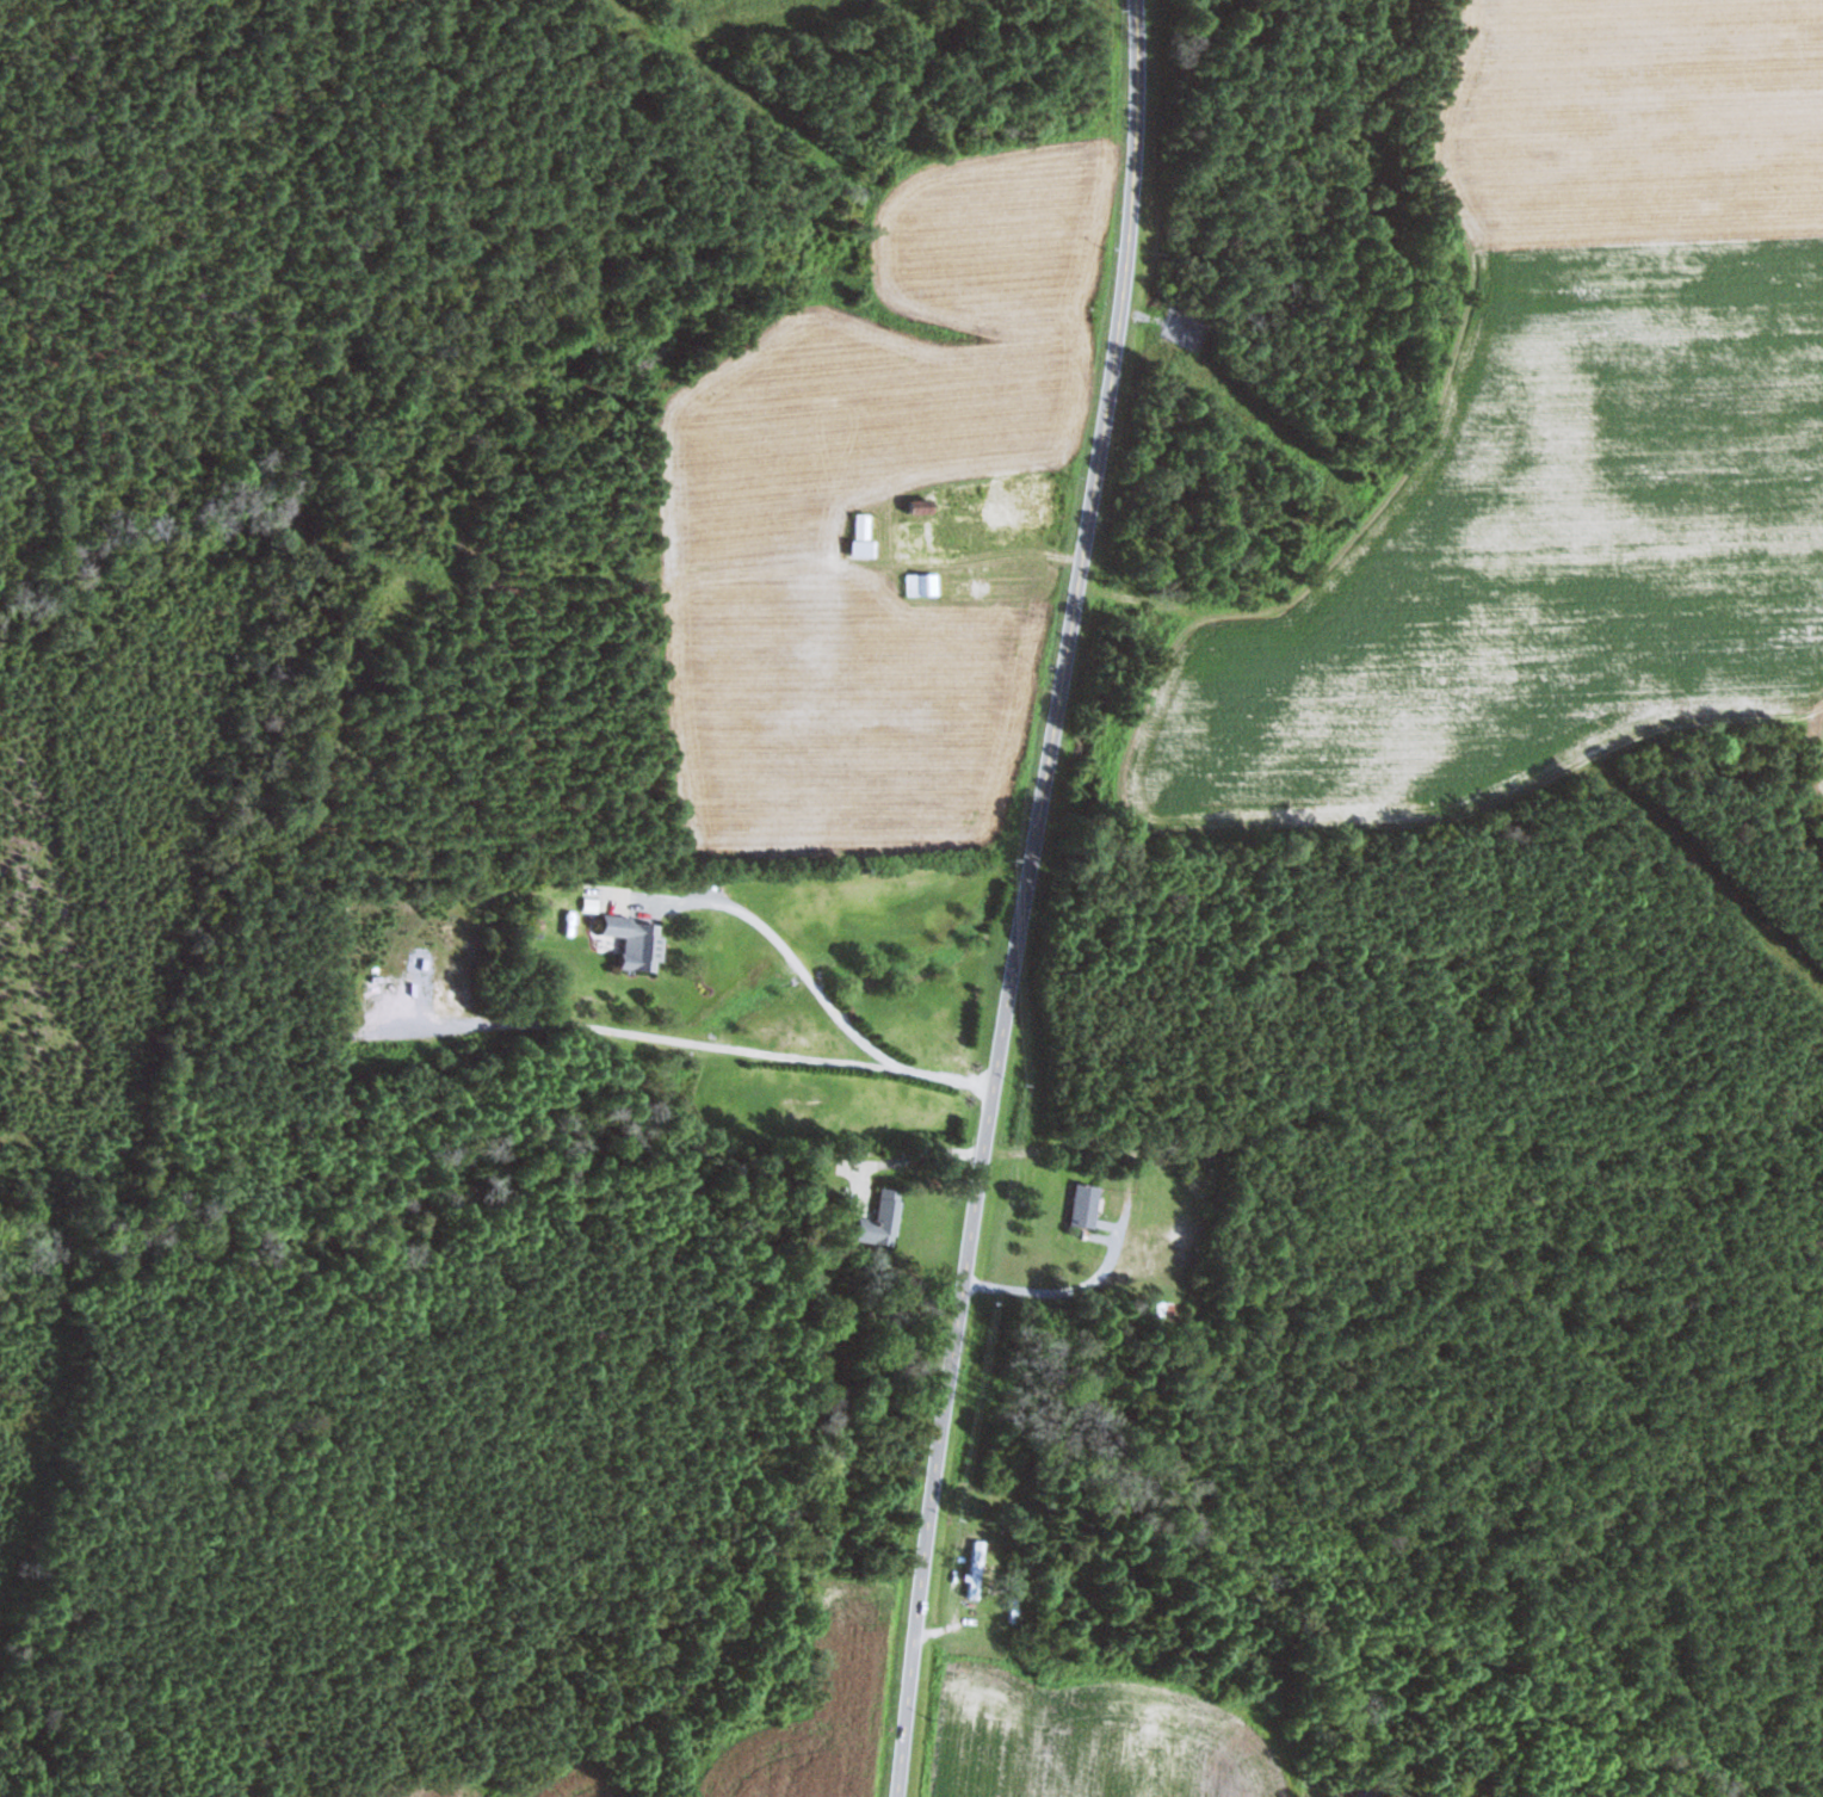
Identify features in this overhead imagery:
building: (864, 535)
road: (1025, 898)
building: (638, 941)
building: (1087, 1206)
building: (884, 1221)
building: (1162, 1246)

